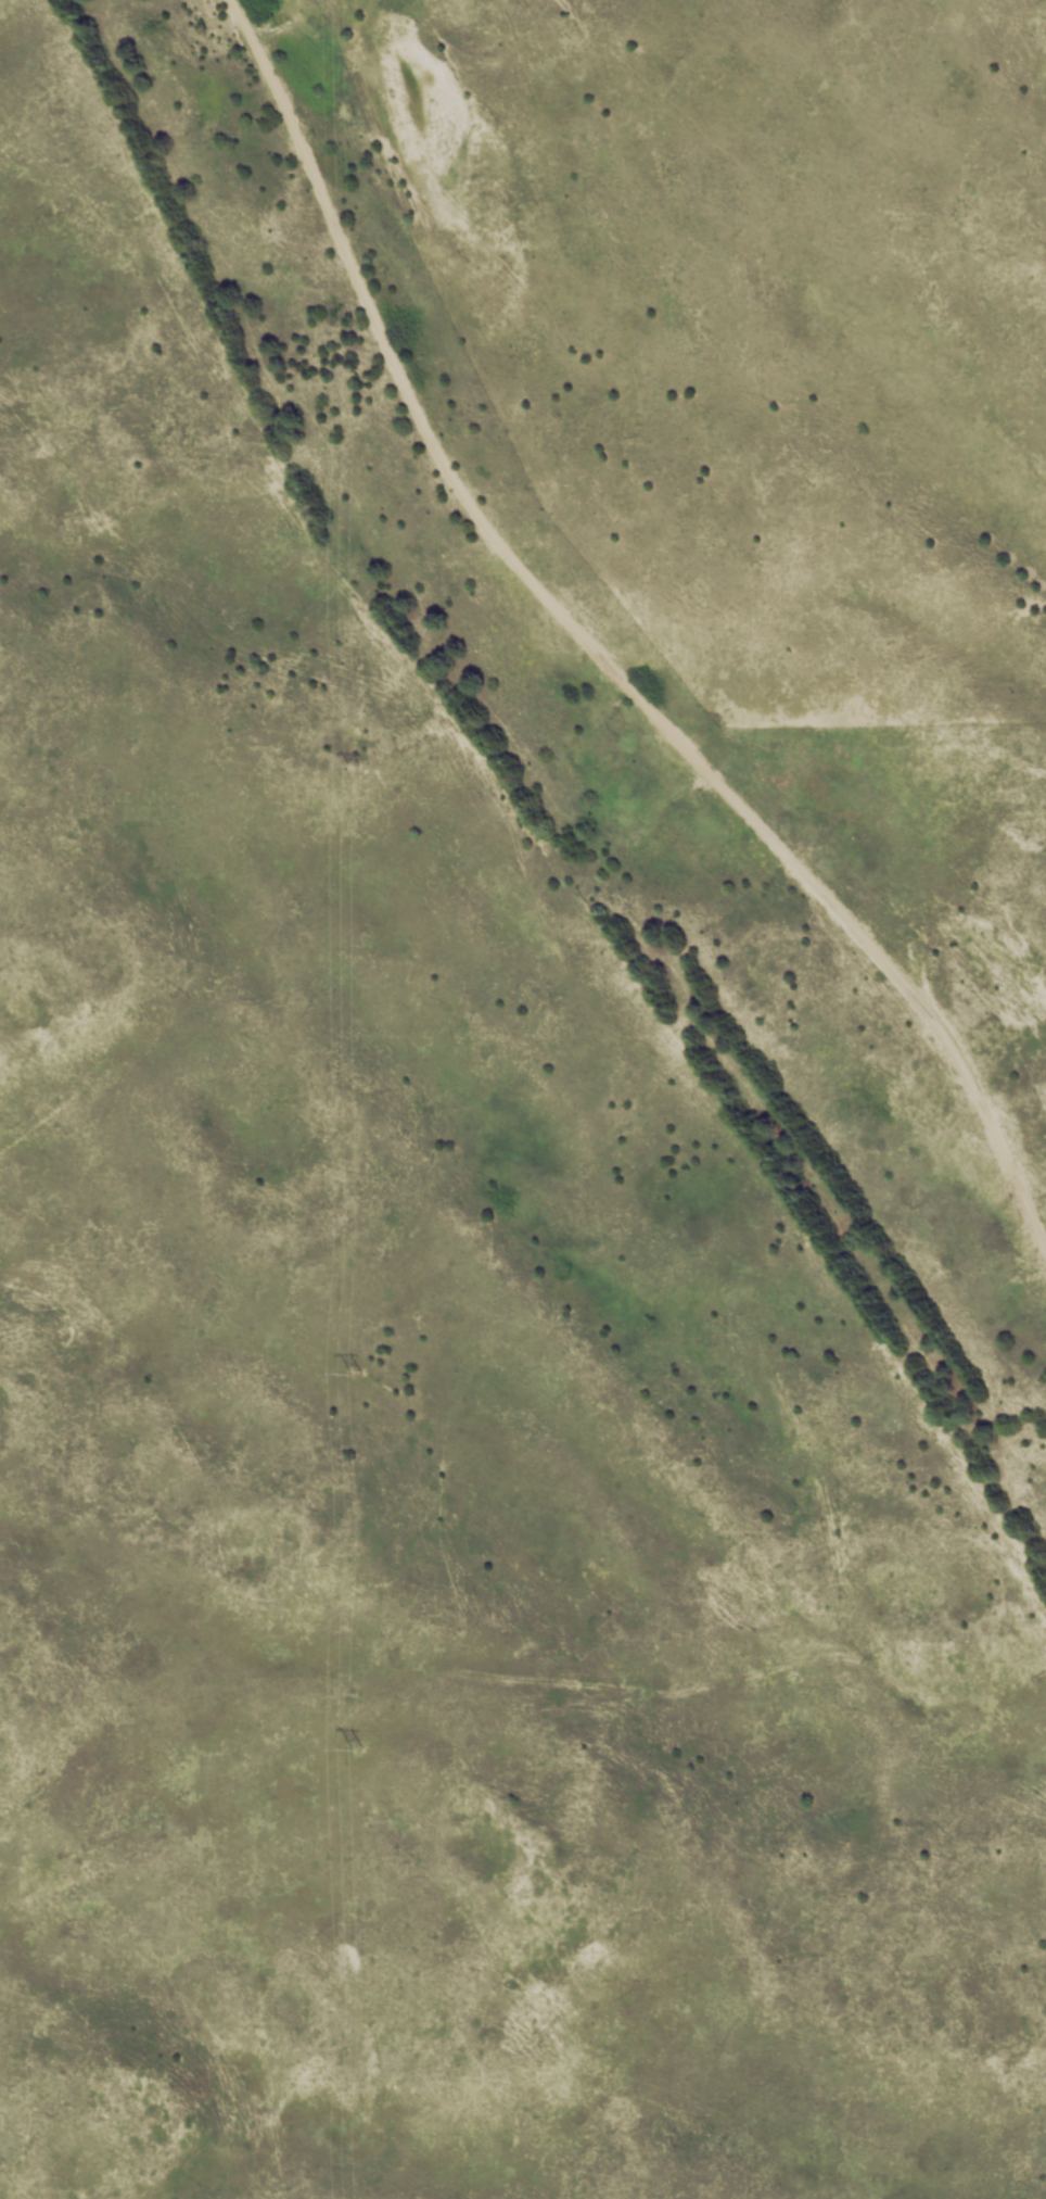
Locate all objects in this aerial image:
power tower: (354, 369)
road: (599, 653)
power tower: (354, 764)
power tower: (356, 1374)
power tower: (357, 1749)

